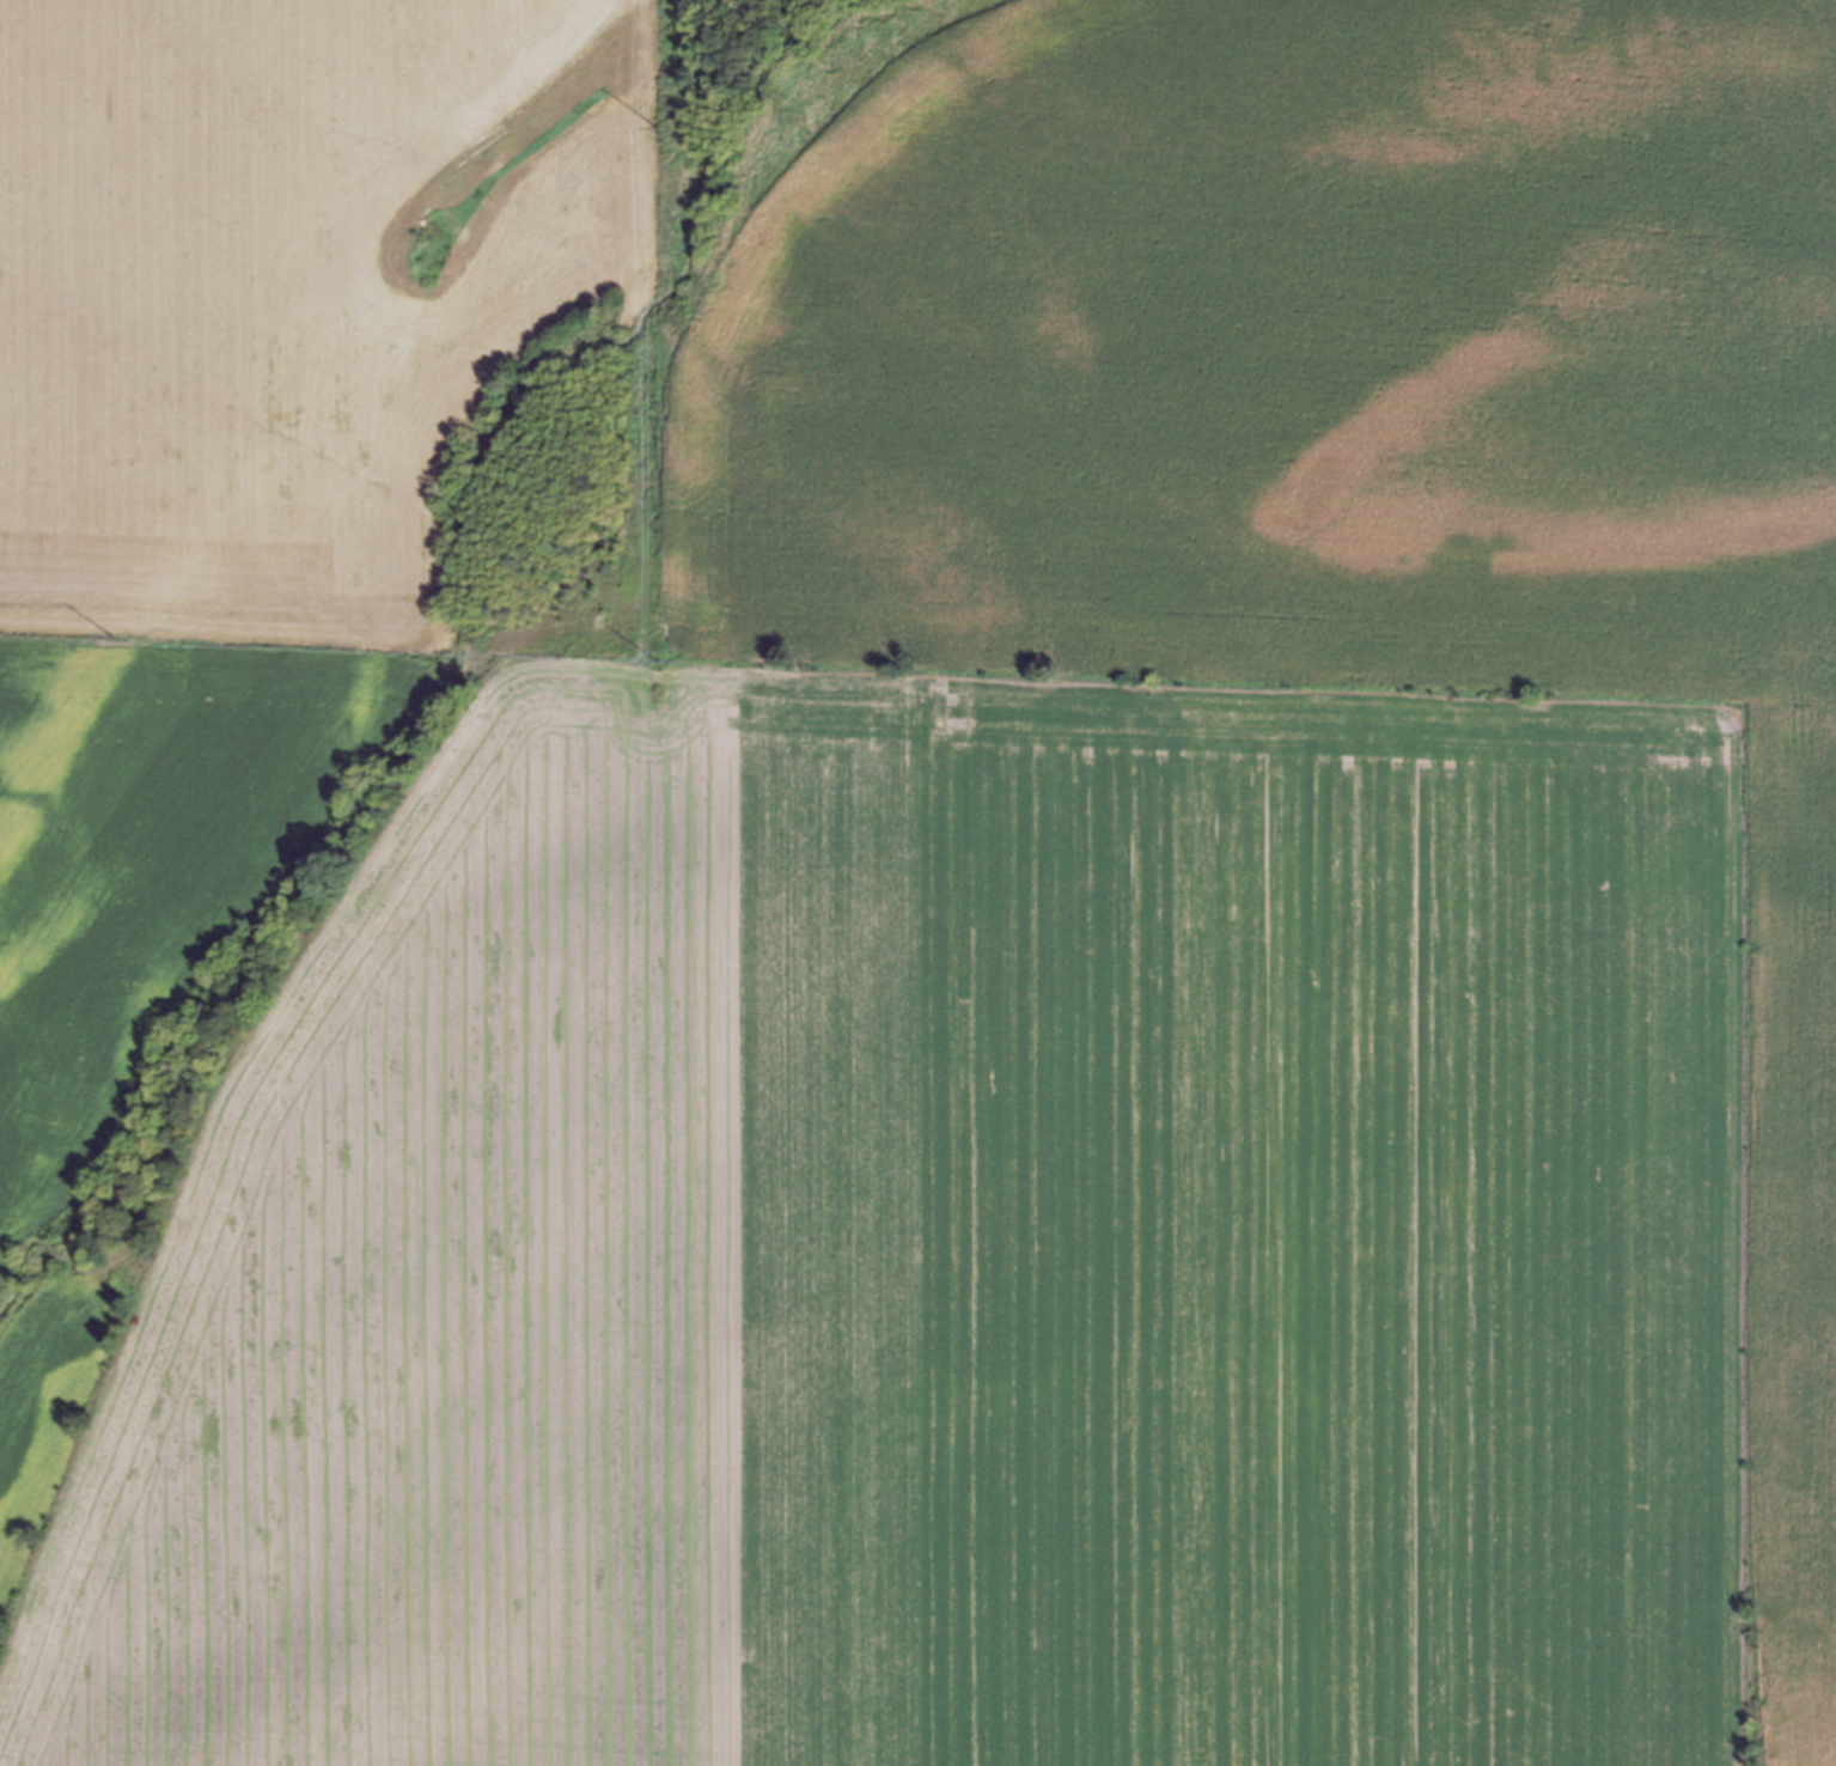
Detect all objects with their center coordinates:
power tower: (657, 128)
power tower: (655, 653)

